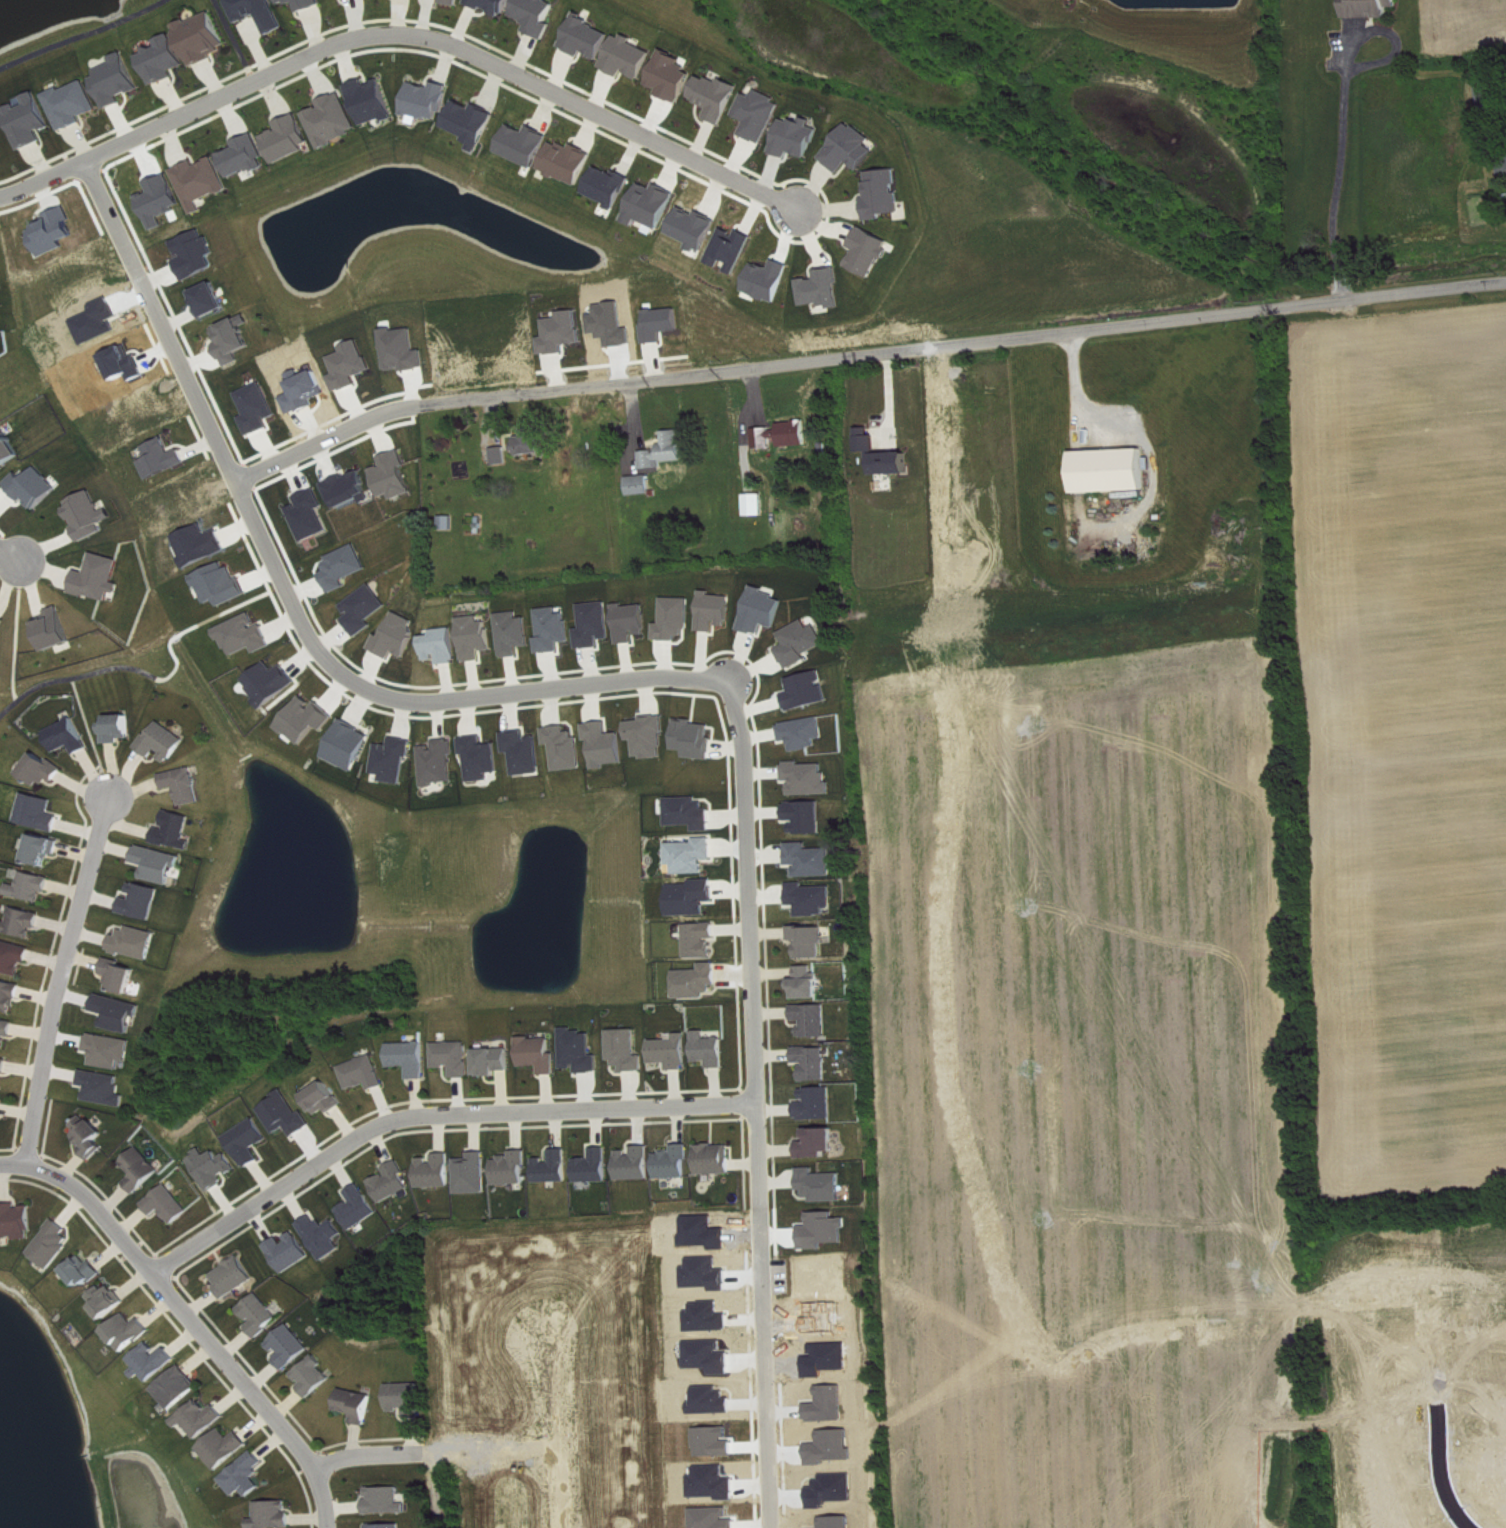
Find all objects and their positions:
building: (456, 2)
building: (307, 4)
building: (497, 6)
building: (1372, 8)
building: (262, 13)
building: (540, 15)
road: (82, 35)
building: (207, 37)
building: (589, 38)
road: (235, 39)
road: (448, 39)
building: (630, 57)
building: (167, 60)
building: (673, 77)
building: (120, 81)
building: (1488, 95)
building: (719, 97)
building: (374, 101)
building: (429, 101)
building: (77, 104)
building: (761, 115)
building: (335, 120)
building: (33, 121)
building: (473, 123)
building: (798, 137)
building: (291, 138)
building: (526, 145)
building: (853, 149)
building: (247, 156)
building: (570, 162)
road: (1336, 168)
road: (43, 178)
building: (204, 182)
building: (610, 186)
building: (885, 194)
building: (653, 205)
building: (696, 228)
building: (871, 252)
building: (198, 257)
building: (824, 289)
building: (212, 300)
building: (234, 341)
building: (352, 366)
road: (686, 376)
building: (259, 408)
building: (785, 435)
building: (533, 442)
building: (9, 449)
building: (668, 451)
building: (885, 455)
building: (503, 456)
building: (164, 458)
building: (1111, 471)
building: (395, 476)
building: (642, 485)
building: (35, 487)
building: (350, 489)
building: (758, 505)
building: (90, 515)
building: (310, 515)
building: (450, 523)
building: (201, 545)
road: (10, 555)
road: (274, 571)
building: (100, 578)
building: (222, 585)
building: (365, 609)
building: (716, 611)
building: (764, 611)
building: (676, 619)
building: (3, 621)
building: (633, 622)
building: (596, 625)
building: (56, 629)
building: (555, 630)
building: (515, 633)
building: (246, 635)
building: (398, 636)
building: (477, 638)
building: (803, 643)
building: (442, 646)
road: (74, 676)
building: (271, 683)
road: (523, 690)
building: (809, 691)
building: (307, 720)
building: (120, 728)
road: (90, 733)
building: (805, 733)
building: (70, 736)
building: (650, 737)
building: (696, 739)
building: (164, 742)
building: (349, 745)
building: (606, 745)
building: (566, 748)
building: (525, 752)
building: (482, 758)
building: (395, 760)
building: (440, 763)
building: (45, 770)
building: (810, 779)
building: (185, 785)
building: (40, 813)
building: (692, 813)
building: (808, 817)
building: (176, 831)
building: (45, 849)
building: (693, 855)
building: (813, 860)
building: (159, 864)
building: (33, 887)
building: (694, 898)
building: (813, 899)
building: (143, 901)
building: (23, 922)
building: (703, 940)
road: (749, 941)
building: (811, 942)
building: (136, 943)
building: (15, 958)
road: (61, 975)
building: (123, 976)
building: (699, 982)
building: (809, 984)
building: (10, 996)
building: (120, 1013)
building: (814, 1020)
building: (7, 1032)
building: (711, 1050)
building: (111, 1051)
building: (628, 1051)
building: (582, 1052)
building: (673, 1052)
building: (541, 1054)
building: (412, 1058)
building: (455, 1058)
building: (496, 1061)
building: (815, 1063)
building: (4, 1068)
building: (365, 1073)
building: (105, 1088)
building: (325, 1099)
building: (818, 1104)
building: (0, 1105)
road: (432, 1111)
building: (286, 1115)
building: (91, 1136)
building: (249, 1142)
building: (820, 1144)
building: (717, 1159)
road: (12, 1161)
building: (675, 1163)
building: (637, 1164)
building: (596, 1167)
building: (215, 1168)
building: (556, 1168)
building: (514, 1169)
building: (143, 1170)
building: (437, 1171)
building: (474, 1174)
building: (393, 1183)
building: (823, 1185)
building: (170, 1205)
building: (359, 1208)
building: (17, 1222)
building: (324, 1236)
building: (54, 1245)
building: (290, 1252)
building: (86, 1272)
building: (235, 1277)
building: (109, 1300)
building: (261, 1315)
road: (200, 1326)
building: (131, 1332)
building: (291, 1347)
building: (154, 1362)
road: (764, 1368)
building: (314, 1377)
building: (179, 1388)
building: (407, 1399)
building: (358, 1405)
building: (202, 1419)
road: (532, 1444)
building: (225, 1448)
road: (373, 1452)
road: (1440, 1474)
building: (247, 1475)
building: (387, 1501)
building: (275, 1515)
building: (387, 1526)

